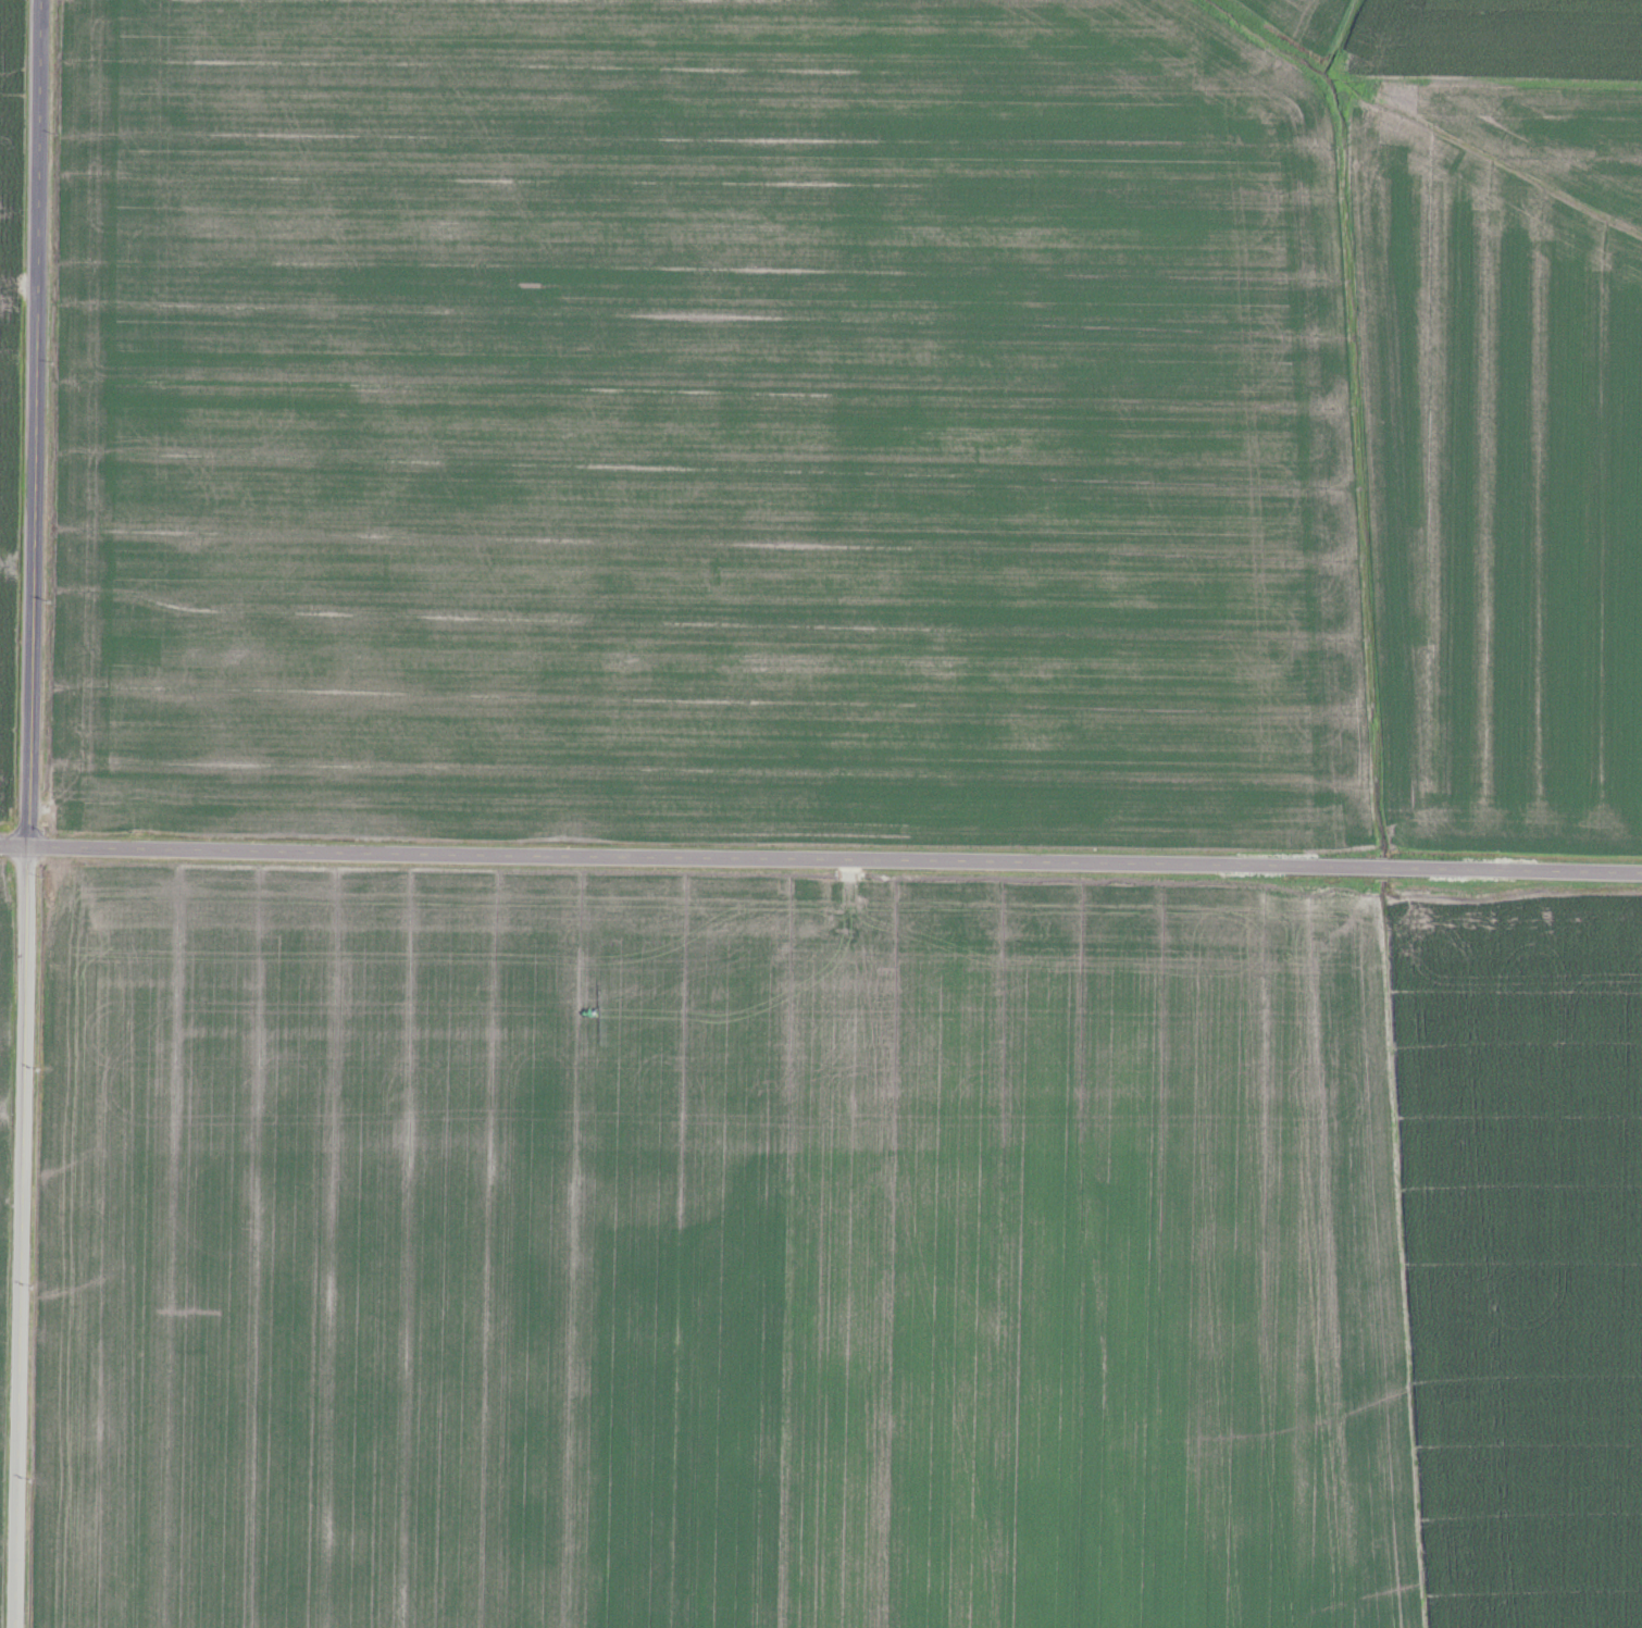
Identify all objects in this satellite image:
road: (30, 422)
road: (13, 844)
road: (833, 858)
road: (20, 1235)

